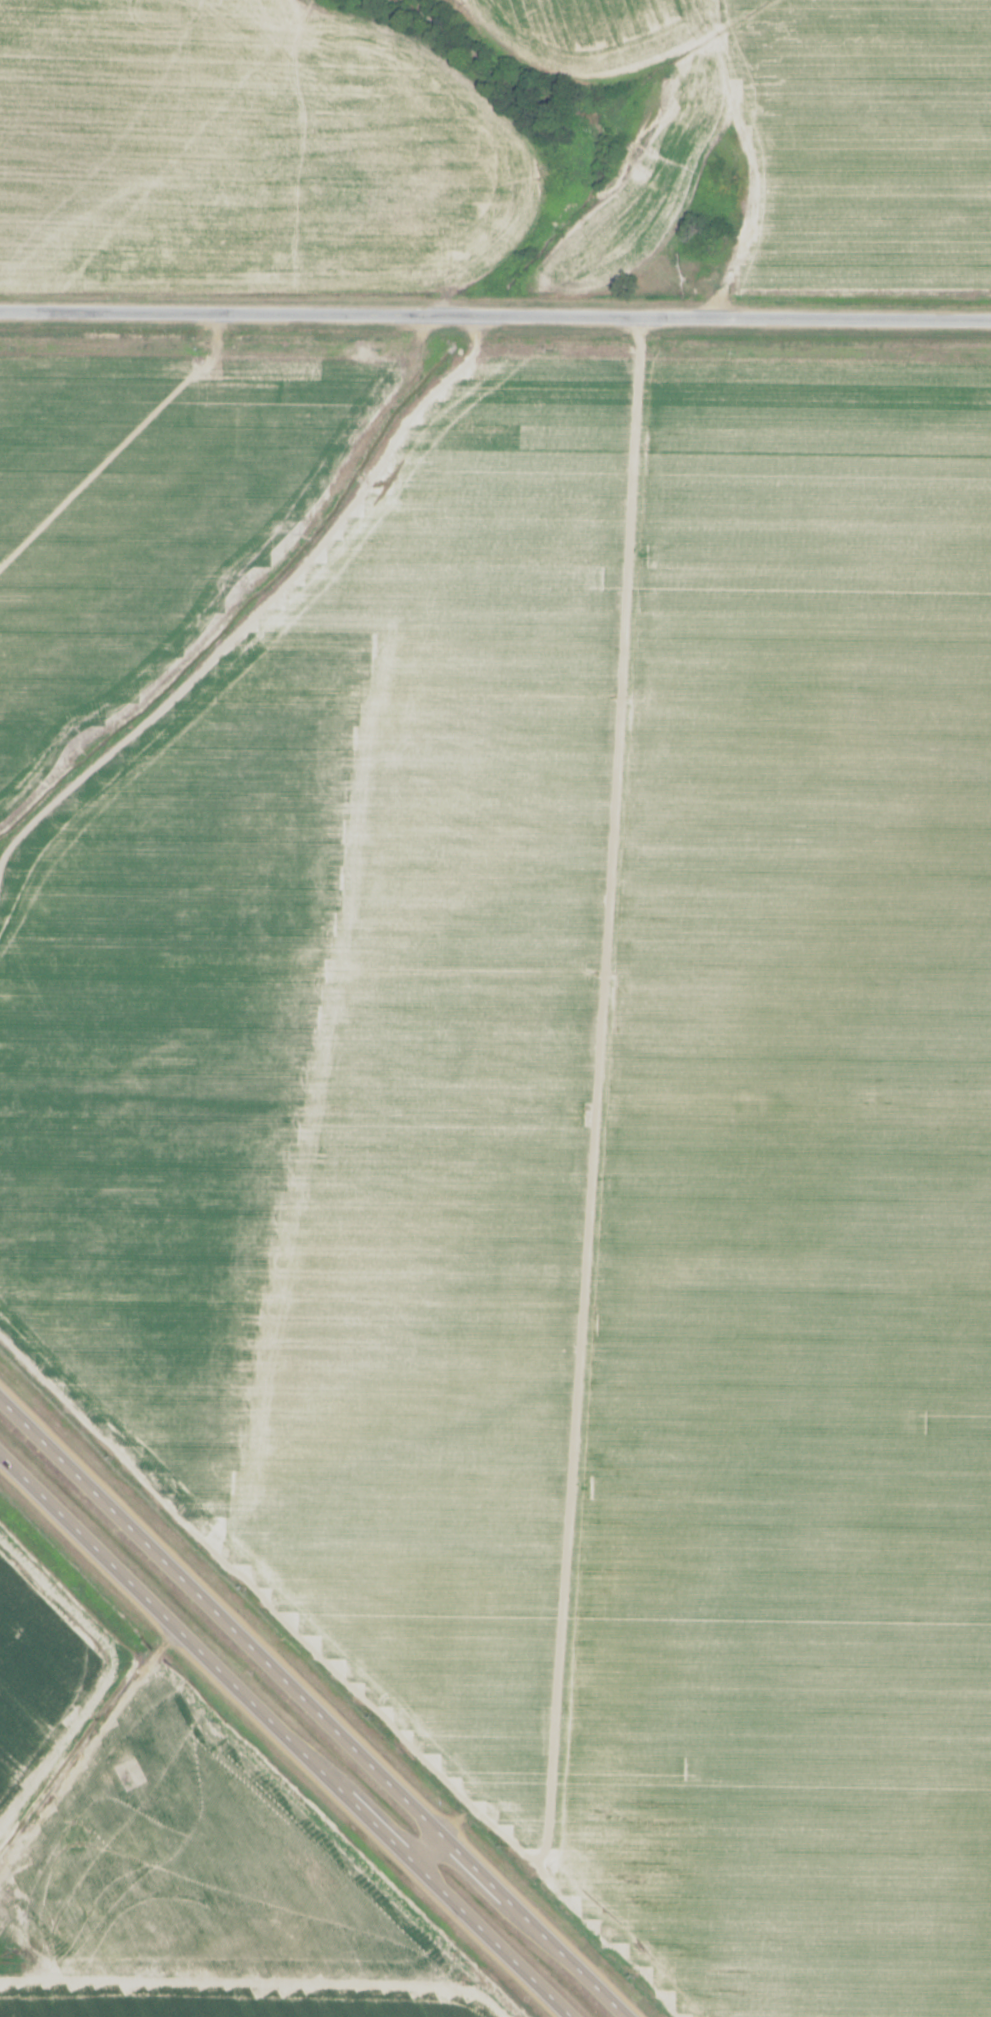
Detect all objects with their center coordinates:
road: (495, 314)
road: (311, 1709)
road: (286, 1733)
road: (87, 1745)

